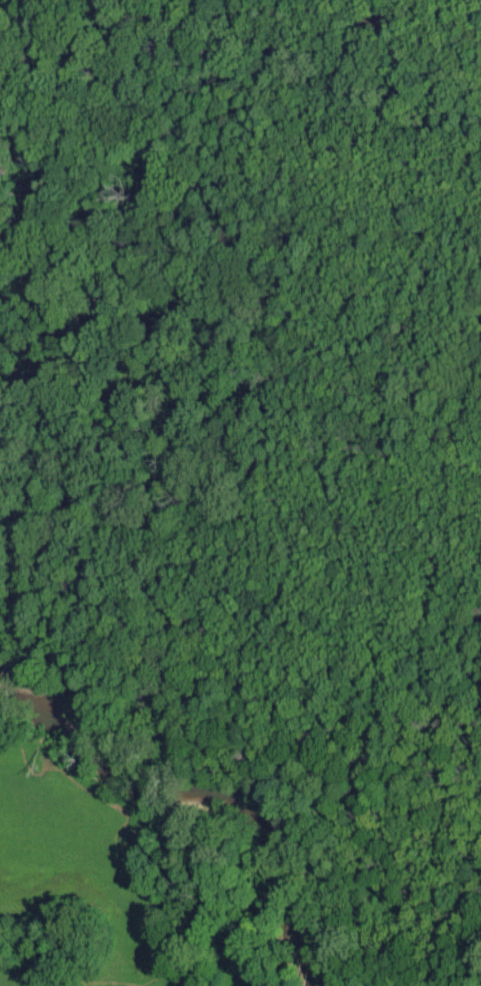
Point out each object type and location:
river: (214, 795)

